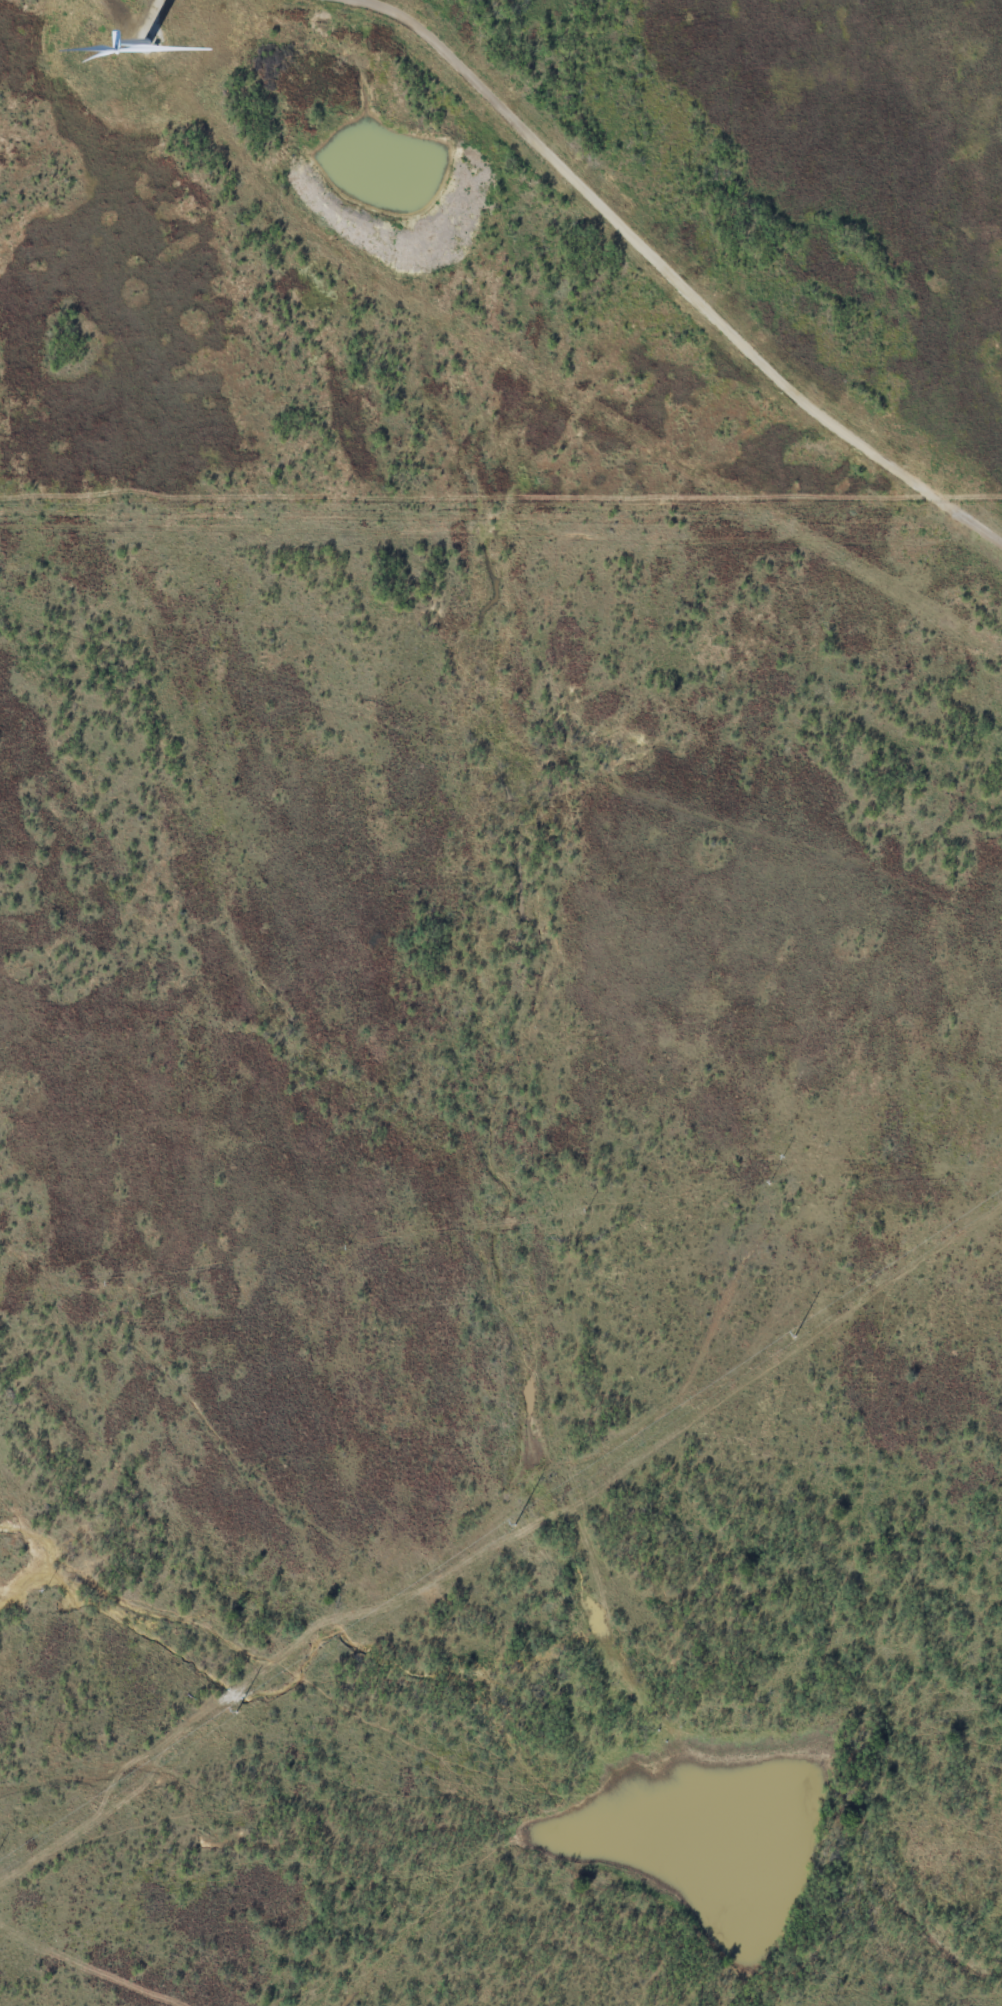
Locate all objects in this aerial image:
wind turbine: (144, 34)
road: (672, 271)
road: (474, 1553)

